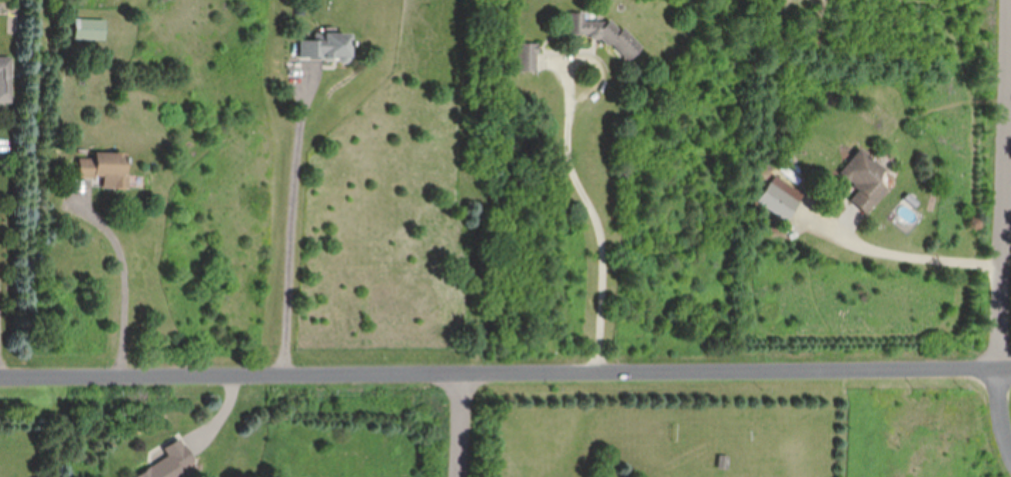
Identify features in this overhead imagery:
building: (91, 30)
building: (328, 49)
building: (526, 58)
building: (6, 81)
building: (107, 170)
building: (864, 181)
building: (777, 202)
road: (596, 216)
road: (291, 227)
road: (1003, 252)
road: (919, 258)
road: (128, 280)
road: (505, 375)
road: (460, 426)
building: (170, 460)

